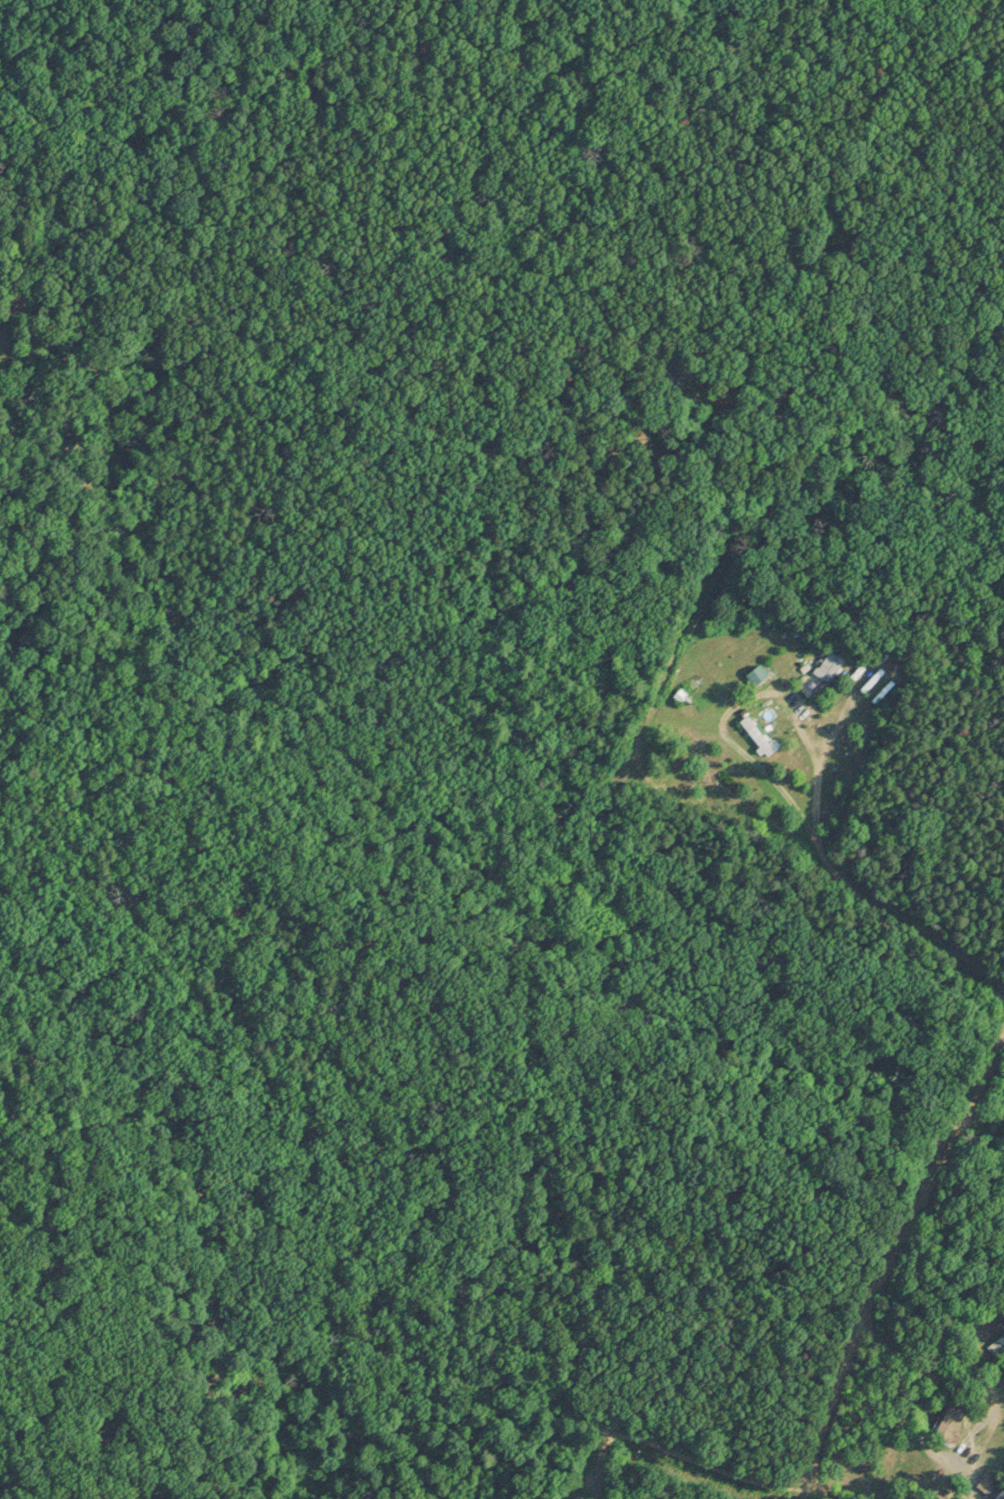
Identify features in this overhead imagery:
building: (832, 661)
building: (755, 670)
building: (755, 731)
road: (645, 751)
building: (997, 1344)
road: (539, 1401)
building: (949, 1420)
building: (898, 1448)

